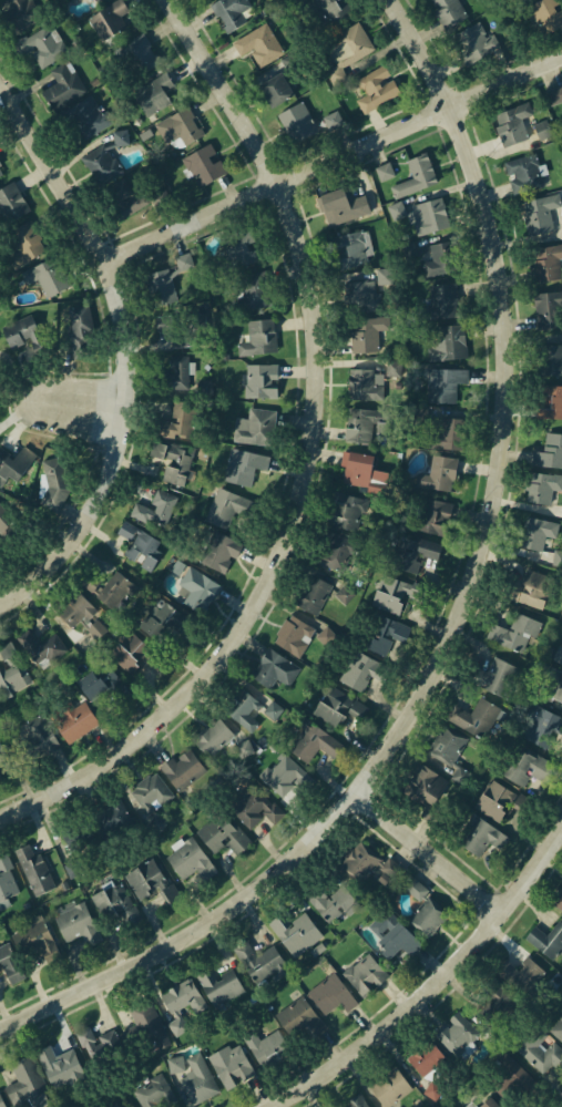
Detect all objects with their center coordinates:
building: (79, 0)
building: (99, 0)
building: (522, 0)
building: (333, 10)
building: (447, 11)
building: (228, 13)
building: (544, 14)
building: (17, 16)
building: (106, 18)
building: (258, 43)
building: (472, 44)
building: (39, 45)
building: (348, 45)
building: (130, 55)
building: (336, 74)
building: (61, 85)
building: (274, 89)
building: (375, 89)
building: (152, 93)
building: (553, 94)
building: (82, 119)
building: (330, 119)
building: (296, 121)
building: (511, 123)
building: (180, 126)
building: (542, 130)
road: (334, 157)
building: (103, 160)
building: (202, 164)
road: (54, 168)
building: (168, 168)
building: (0, 171)
building: (384, 171)
building: (522, 173)
building: (415, 176)
building: (116, 191)
building: (11, 199)
building: (341, 205)
building: (396, 209)
building: (429, 215)
building: (541, 215)
building: (24, 246)
building: (407, 247)
building: (238, 248)
building: (348, 249)
building: (440, 258)
building: (545, 259)
building: (45, 277)
building: (164, 280)
building: (252, 291)
building: (359, 296)
building: (441, 300)
building: (549, 309)
building: (80, 328)
building: (20, 331)
building: (367, 332)
building: (257, 337)
building: (182, 338)
building: (446, 342)
building: (549, 361)
building: (205, 366)
building: (395, 368)
building: (180, 371)
building: (258, 379)
building: (362, 383)
building: (442, 385)
building: (205, 388)
building: (550, 402)
road: (85, 403)
building: (177, 420)
building: (362, 424)
building: (255, 426)
building: (447, 432)
building: (16, 451)
road: (119, 453)
building: (549, 453)
building: (173, 460)
road: (311, 461)
building: (243, 465)
building: (361, 469)
building: (437, 475)
building: (57, 480)
building: (543, 486)
building: (228, 506)
building: (156, 509)
building: (346, 512)
building: (428, 513)
building: (4, 520)
building: (534, 530)
building: (139, 545)
building: (219, 551)
building: (333, 551)
building: (411, 552)
building: (556, 558)
building: (177, 567)
building: (197, 585)
building: (109, 587)
building: (534, 587)
building: (396, 591)
building: (317, 593)
road: (462, 613)
building: (79, 614)
building: (160, 619)
building: (514, 631)
building: (298, 634)
building: (384, 635)
building: (43, 647)
building: (135, 652)
building: (559, 654)
building: (272, 667)
building: (11, 669)
building: (362, 670)
building: (495, 676)
building: (96, 679)
building: (550, 686)
building: (336, 705)
building: (243, 707)
building: (272, 710)
building: (473, 717)
building: (74, 719)
building: (543, 727)
building: (213, 737)
building: (33, 738)
building: (309, 738)
building: (446, 744)
building: (243, 748)
building: (2, 749)
building: (525, 766)
building: (182, 768)
building: (460, 775)
building: (287, 776)
building: (0, 778)
building: (426, 781)
building: (149, 795)
building: (501, 800)
building: (255, 803)
building: (111, 822)
building: (224, 832)
building: (480, 837)
road: (431, 850)
building: (187, 858)
building: (369, 863)
building: (34, 869)
building: (151, 881)
building: (6, 883)
building: (558, 899)
building: (330, 903)
building: (115, 904)
building: (426, 911)
building: (75, 922)
building: (294, 931)
building: (392, 934)
building: (546, 939)
building: (34, 941)
building: (260, 960)
building: (9, 965)
building: (365, 973)
building: (512, 978)
building: (217, 984)
road: (433, 987)
building: (331, 993)
building: (184, 1005)
building: (492, 1017)
building: (297, 1021)
building: (147, 1025)
building: (558, 1028)
building: (454, 1032)
building: (99, 1047)
building: (267, 1047)
building: (541, 1050)
building: (427, 1059)
building: (175, 1064)
building: (232, 1065)
building: (60, 1066)
building: (505, 1076)
building: (33, 1078)
building: (197, 1079)
building: (387, 1089)
building: (433, 1090)
building: (154, 1093)
building: (488, 1101)
building: (354, 1103)
building: (0, 1105)
building: (113, 1105)
building: (446, 1106)
building: (448, 1106)

